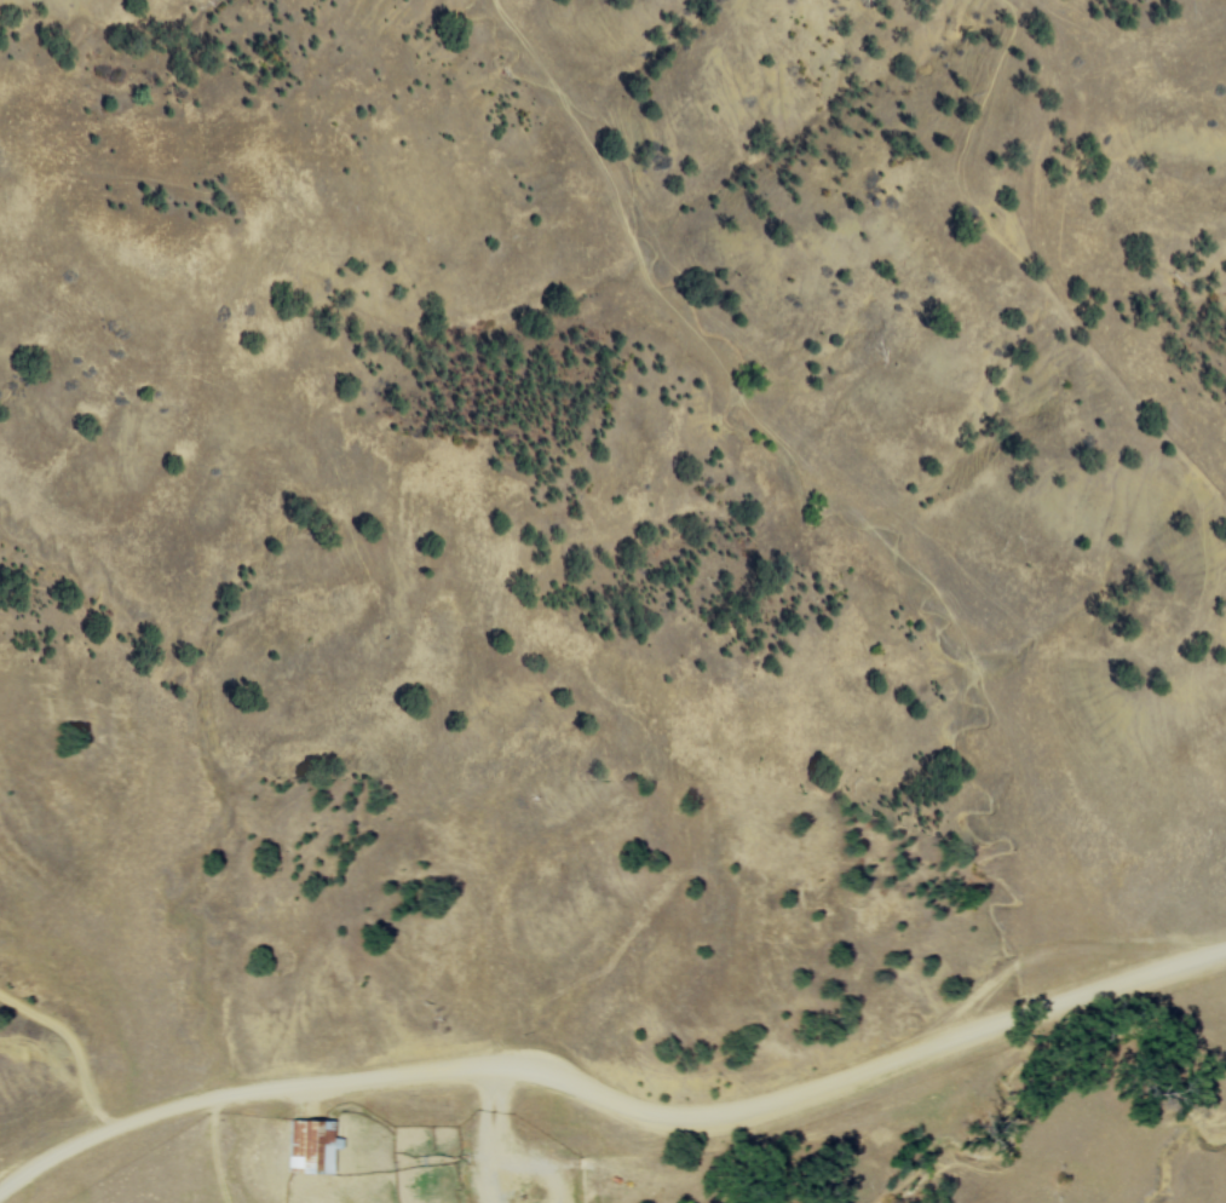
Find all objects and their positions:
road: (611, 1092)
road: (508, 1107)
road: (526, 1147)

